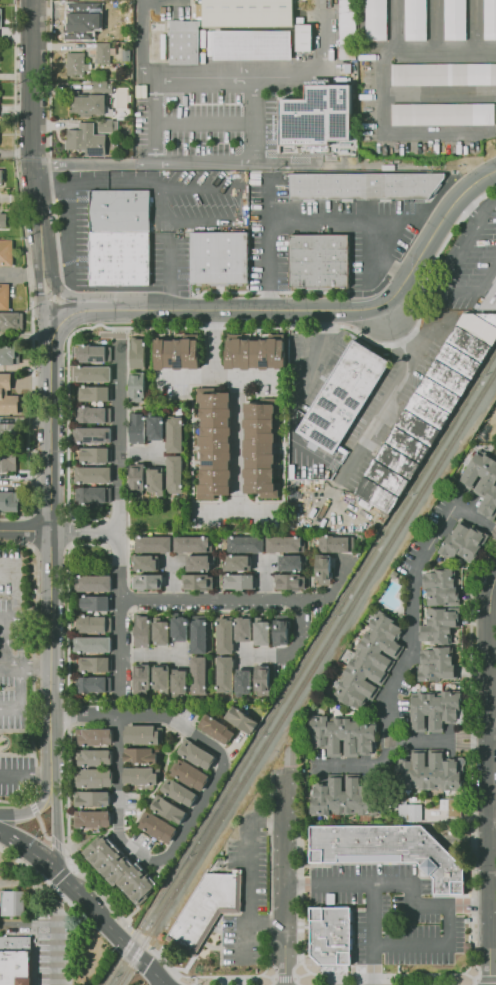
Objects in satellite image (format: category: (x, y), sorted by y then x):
building: (101, 8)
building: (489, 19)
building: (455, 20)
building: (377, 21)
building: (415, 21)
building: (74, 23)
road: (433, 23)
road: (472, 23)
road: (394, 24)
building: (112, 34)
building: (239, 34)
road: (143, 40)
road: (404, 47)
building: (102, 53)
building: (125, 54)
building: (346, 55)
building: (75, 63)
building: (443, 75)
road: (270, 77)
building: (99, 85)
building: (123, 98)
building: (87, 105)
building: (315, 115)
building: (443, 115)
road: (253, 120)
building: (107, 126)
road: (31, 128)
building: (260, 134)
road: (395, 135)
building: (85, 140)
road: (136, 161)
road: (258, 162)
building: (1, 177)
road: (122, 182)
building: (362, 187)
road: (19, 198)
road: (486, 206)
road: (467, 207)
road: (178, 212)
building: (2, 221)
road: (309, 223)
building: (119, 239)
building: (6, 253)
building: (220, 260)
building: (318, 262)
road: (168, 274)
road: (53, 279)
road: (439, 284)
road: (43, 293)
building: (4, 296)
road: (95, 297)
road: (307, 312)
building: (10, 320)
road: (120, 328)
building: (254, 352)
building: (93, 353)
building: (138, 353)
road: (316, 353)
building: (9, 354)
building: (177, 354)
building: (93, 374)
building: (138, 386)
road: (394, 387)
building: (94, 393)
building: (342, 396)
building: (8, 397)
road: (237, 398)
building: (431, 405)
building: (94, 415)
building: (137, 426)
building: (156, 426)
building: (1, 427)
building: (174, 434)
building: (94, 436)
building: (215, 443)
building: (259, 450)
building: (93, 454)
building: (8, 461)
building: (175, 474)
building: (93, 475)
building: (138, 477)
building: (157, 479)
building: (480, 481)
building: (96, 496)
building: (9, 501)
road: (478, 517)
road: (118, 519)
road: (49, 520)
road: (25, 531)
road: (84, 532)
building: (154, 542)
building: (247, 542)
building: (283, 542)
building: (461, 542)
building: (190, 543)
building: (333, 543)
building: (199, 562)
building: (238, 562)
building: (290, 562)
building: (147, 563)
building: (320, 570)
building: (199, 580)
building: (239, 580)
building: (290, 580)
building: (147, 581)
building: (93, 582)
building: (440, 588)
road: (415, 599)
road: (243, 601)
building: (94, 602)
building: (95, 623)
building: (438, 626)
building: (179, 629)
building: (243, 629)
building: (142, 631)
building: (279, 632)
building: (161, 633)
building: (261, 634)
building: (198, 636)
building: (223, 637)
road: (4, 642)
building: (93, 644)
road: (296, 644)
road: (31, 657)
building: (370, 661)
building: (436, 663)
parking lot: (16, 665)
building: (95, 665)
railway: (300, 665)
road: (2, 668)
road: (27, 669)
building: (198, 673)
building: (226, 673)
building: (161, 677)
railway: (307, 677)
building: (141, 678)
building: (262, 680)
building: (180, 681)
building: (244, 681)
building: (96, 685)
road: (19, 699)
building: (433, 711)
road: (85, 716)
building: (240, 718)
building: (215, 729)
road: (493, 730)
building: (143, 733)
road: (389, 733)
road: (66, 735)
building: (342, 735)
building: (95, 738)
road: (439, 743)
road: (52, 747)
building: (142, 754)
road: (222, 756)
building: (95, 757)
building: (199, 759)
road: (347, 765)
building: (428, 773)
parking lot: (16, 775)
road: (26, 777)
building: (142, 777)
building: (190, 777)
building: (94, 778)
road: (488, 780)
building: (179, 792)
building: (343, 797)
building: (91, 799)
road: (14, 802)
road: (117, 804)
road: (33, 805)
building: (453, 807)
building: (170, 810)
building: (411, 813)
building: (93, 820)
road: (56, 824)
building: (157, 828)
road: (30, 851)
building: (385, 852)
road: (68, 859)
road: (25, 866)
road: (287, 866)
road: (73, 867)
building: (118, 869)
road: (397, 883)
parking lot: (254, 884)
road: (244, 897)
building: (10, 903)
building: (202, 910)
parking lot: (387, 917)
road: (31, 918)
road: (265, 922)
road: (25, 924)
road: (110, 927)
road: (370, 934)
building: (327, 936)
road: (137, 937)
building: (160, 937)
road: (52, 943)
road: (429, 946)
building: (13, 960)
road: (88, 962)
parking lot: (43, 975)
road: (219, 982)
road: (193, 984)

